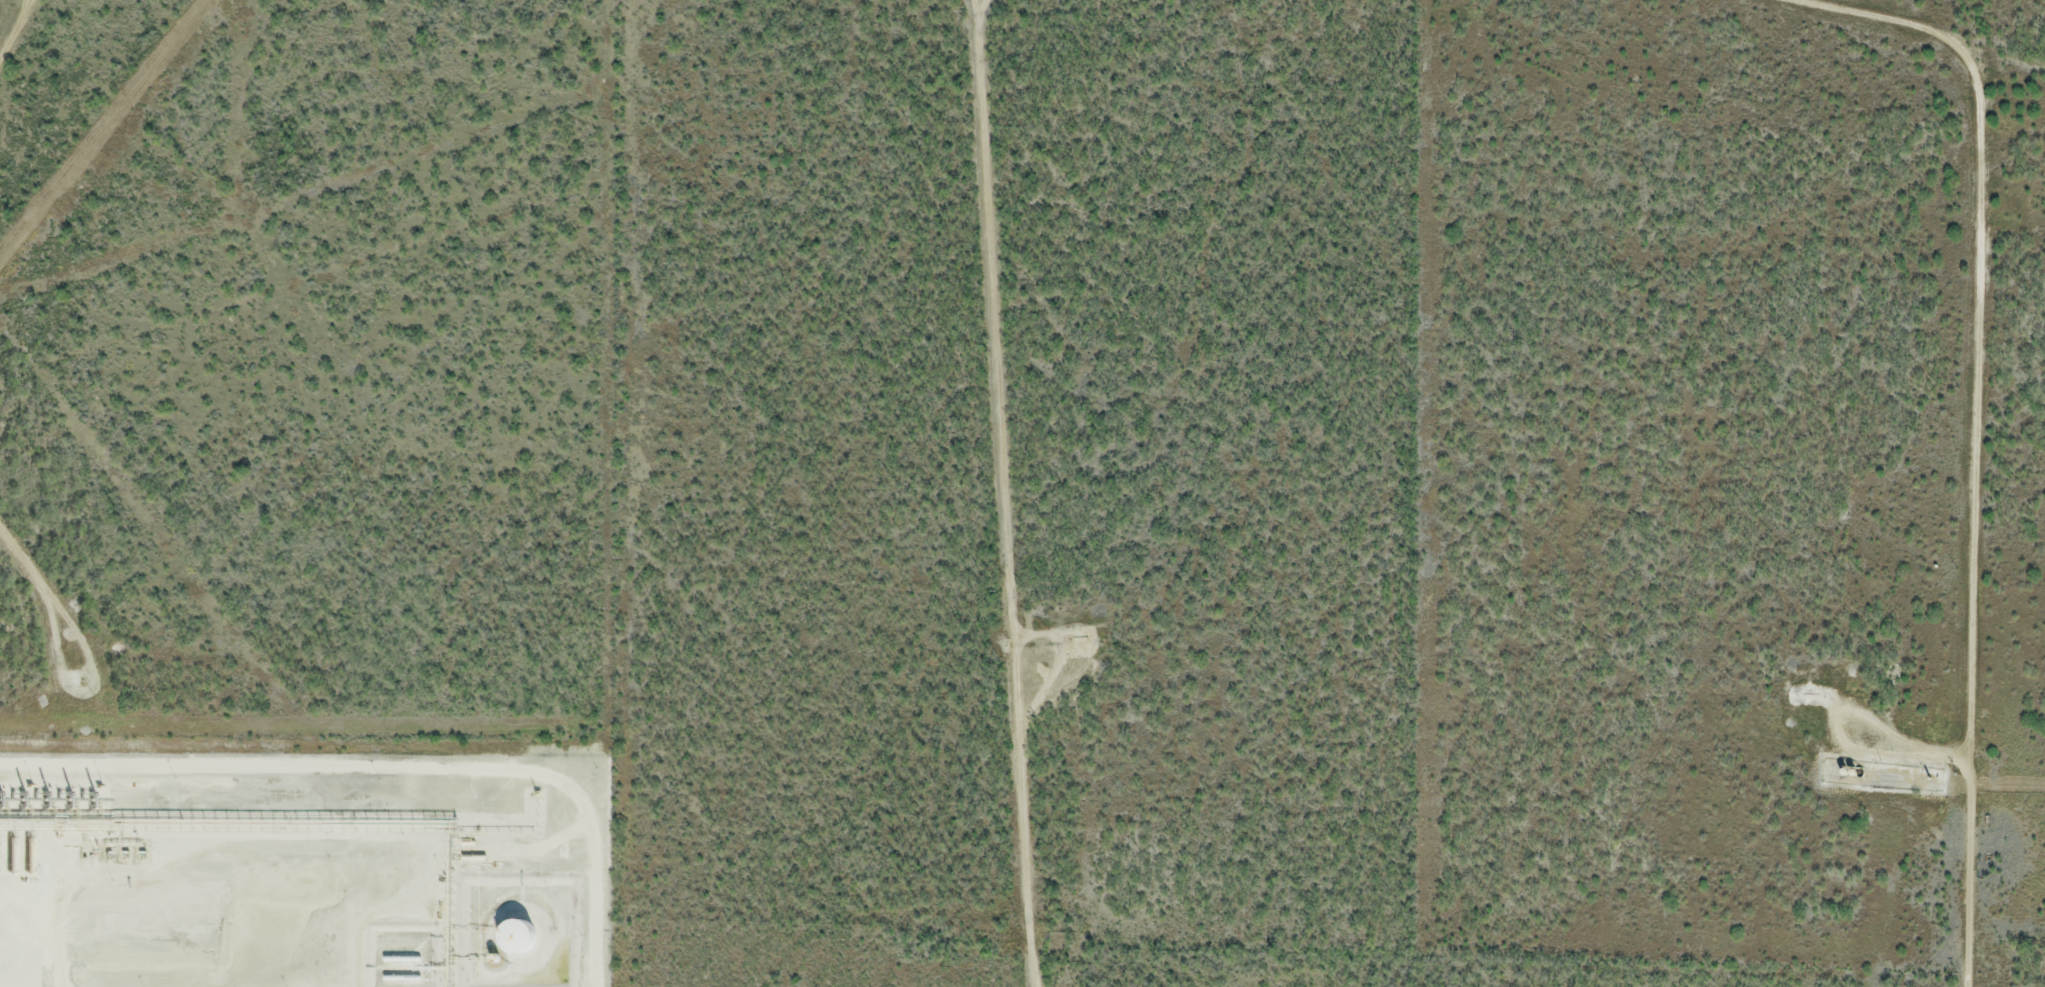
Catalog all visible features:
road: (1971, 429)

